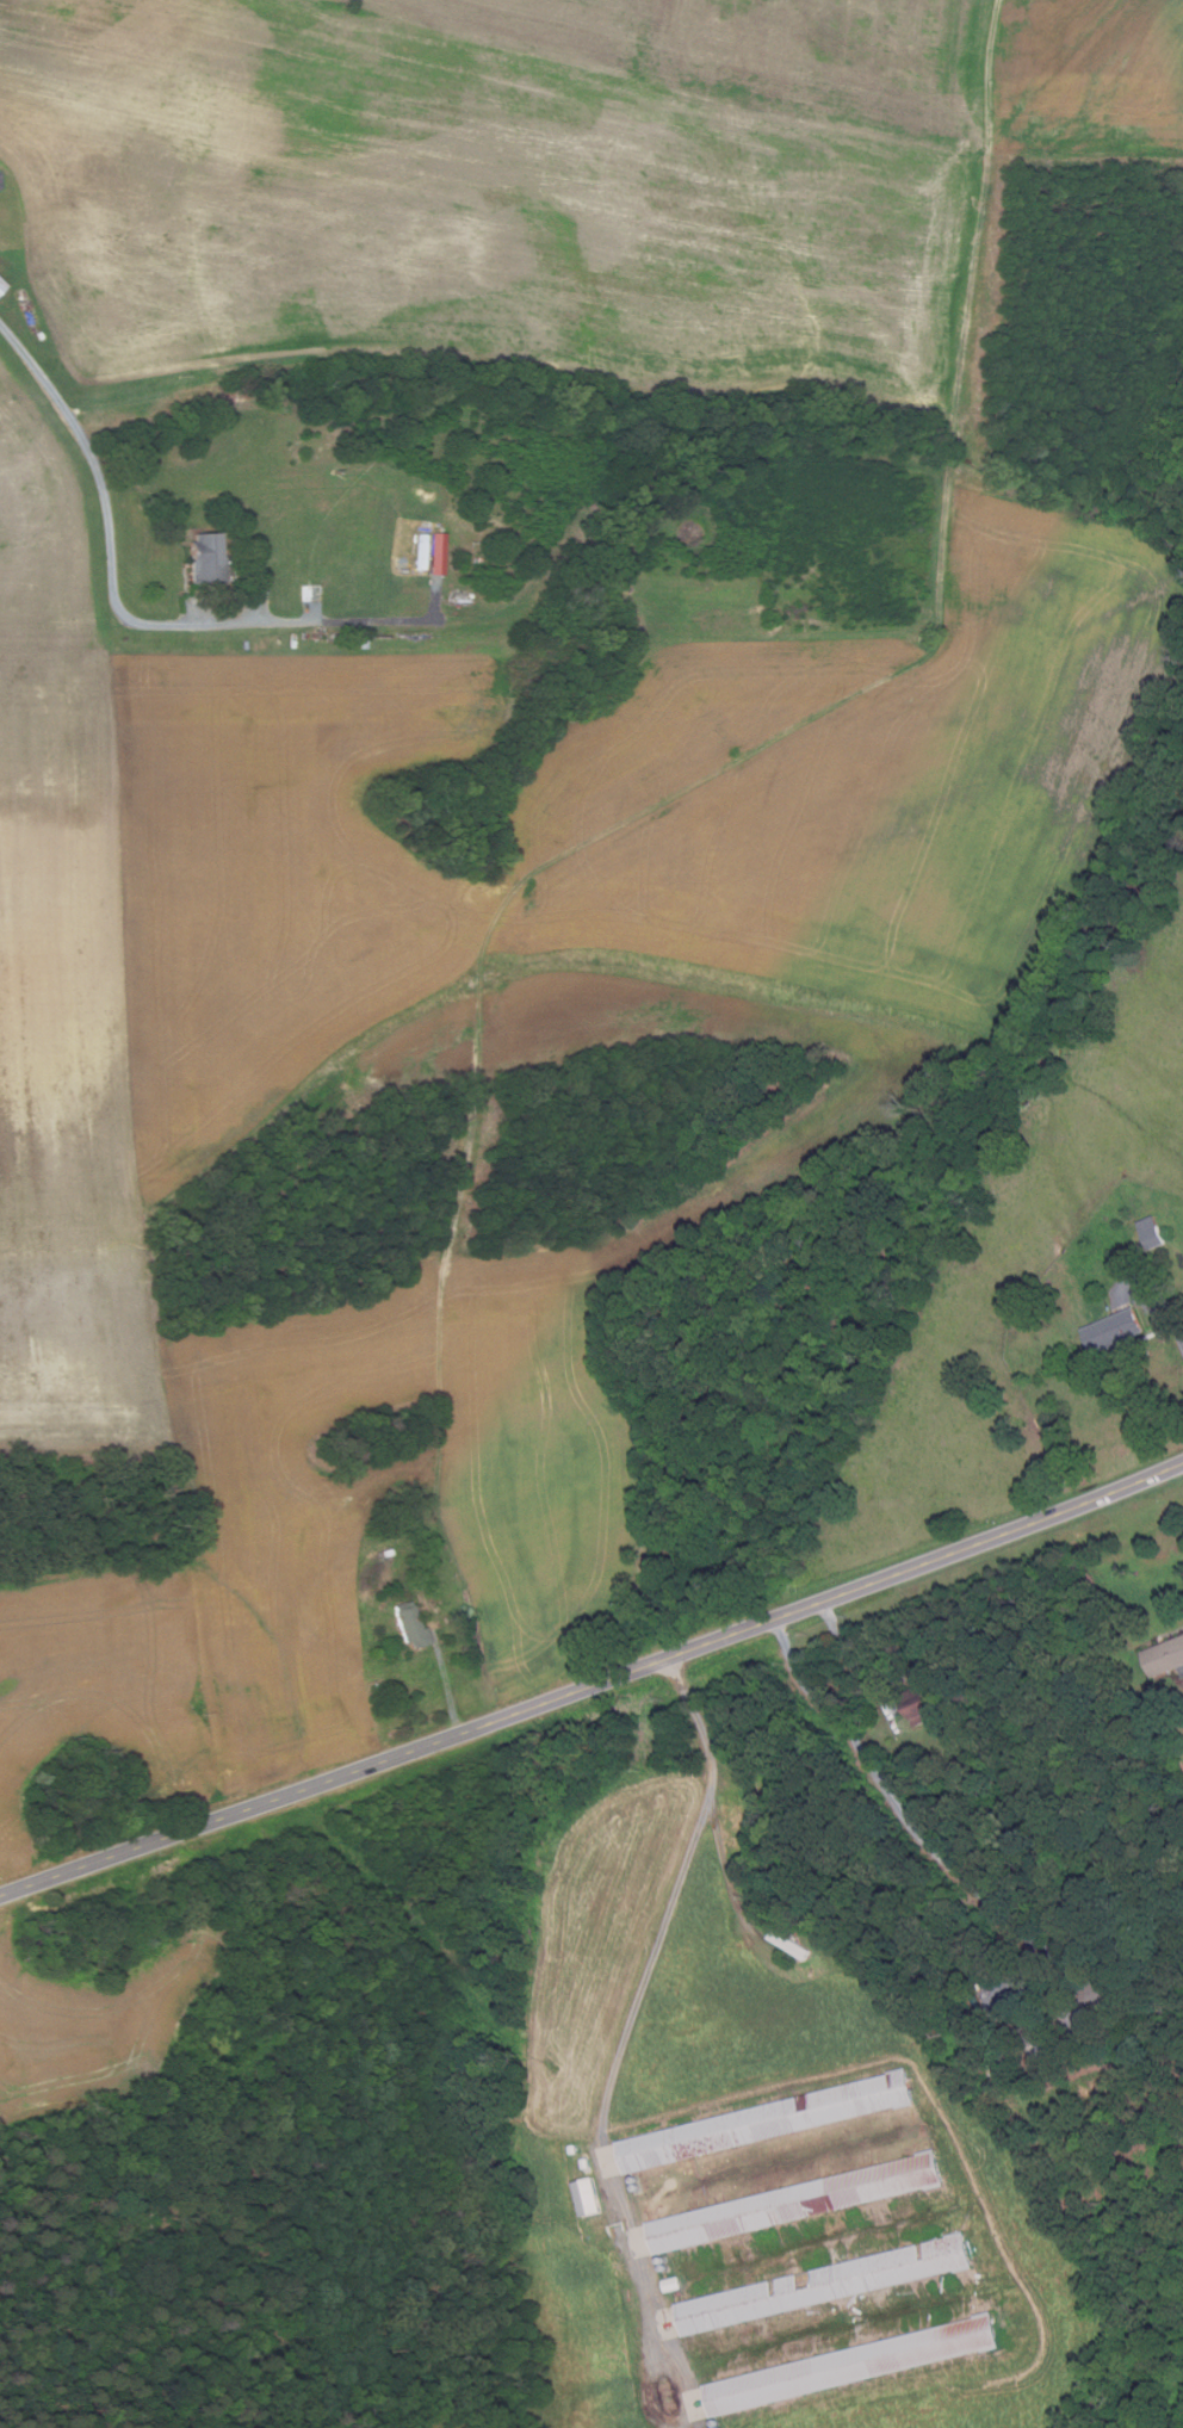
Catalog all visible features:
crop: (1092, 81)
crop: (519, 192)
building: (1, 284)
crop: (43, 529)
road: (109, 546)
building: (434, 552)
building: (204, 559)
crop: (68, 1078)
building: (1150, 1231)
road: (1167, 1315)
building: (1110, 1328)
crop: (540, 1509)
building: (408, 1623)
building: (1163, 1655)
road: (855, 1662)
crop: (104, 1667)
road: (593, 1684)
road: (448, 1687)
building: (919, 1703)
road: (894, 1801)
road: (724, 1865)
road: (683, 1878)
building: (789, 1944)
building: (1100, 1992)
building: (879, 1993)
crop: (95, 2023)
building: (1034, 2033)
building: (996, 2065)
building: (764, 2120)
building: (588, 2163)
building: (589, 2197)
building: (794, 2200)
building: (823, 2283)
building: (849, 2364)

